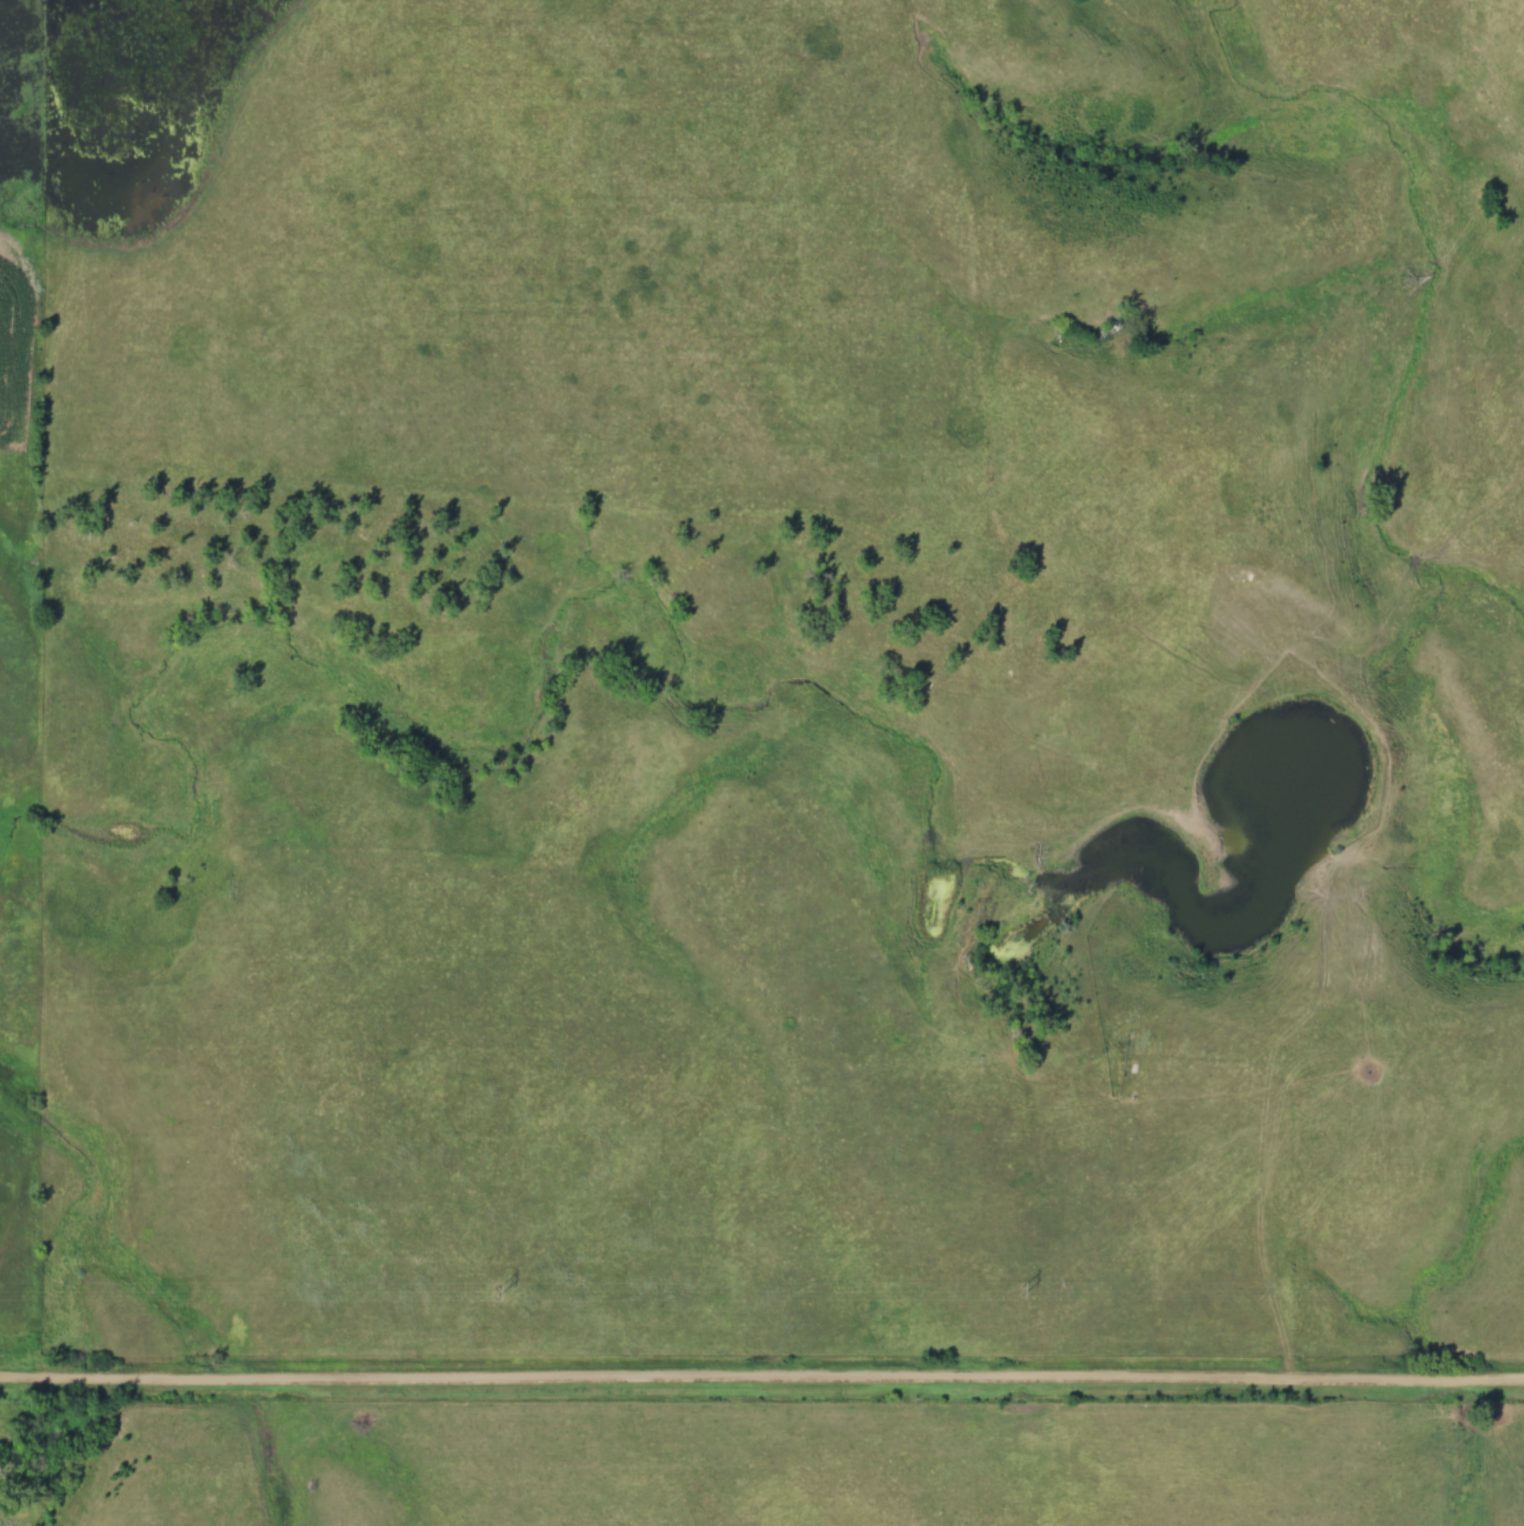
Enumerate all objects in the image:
power tower: (495, 1291)
power tower: (1018, 1292)
road: (762, 1376)

